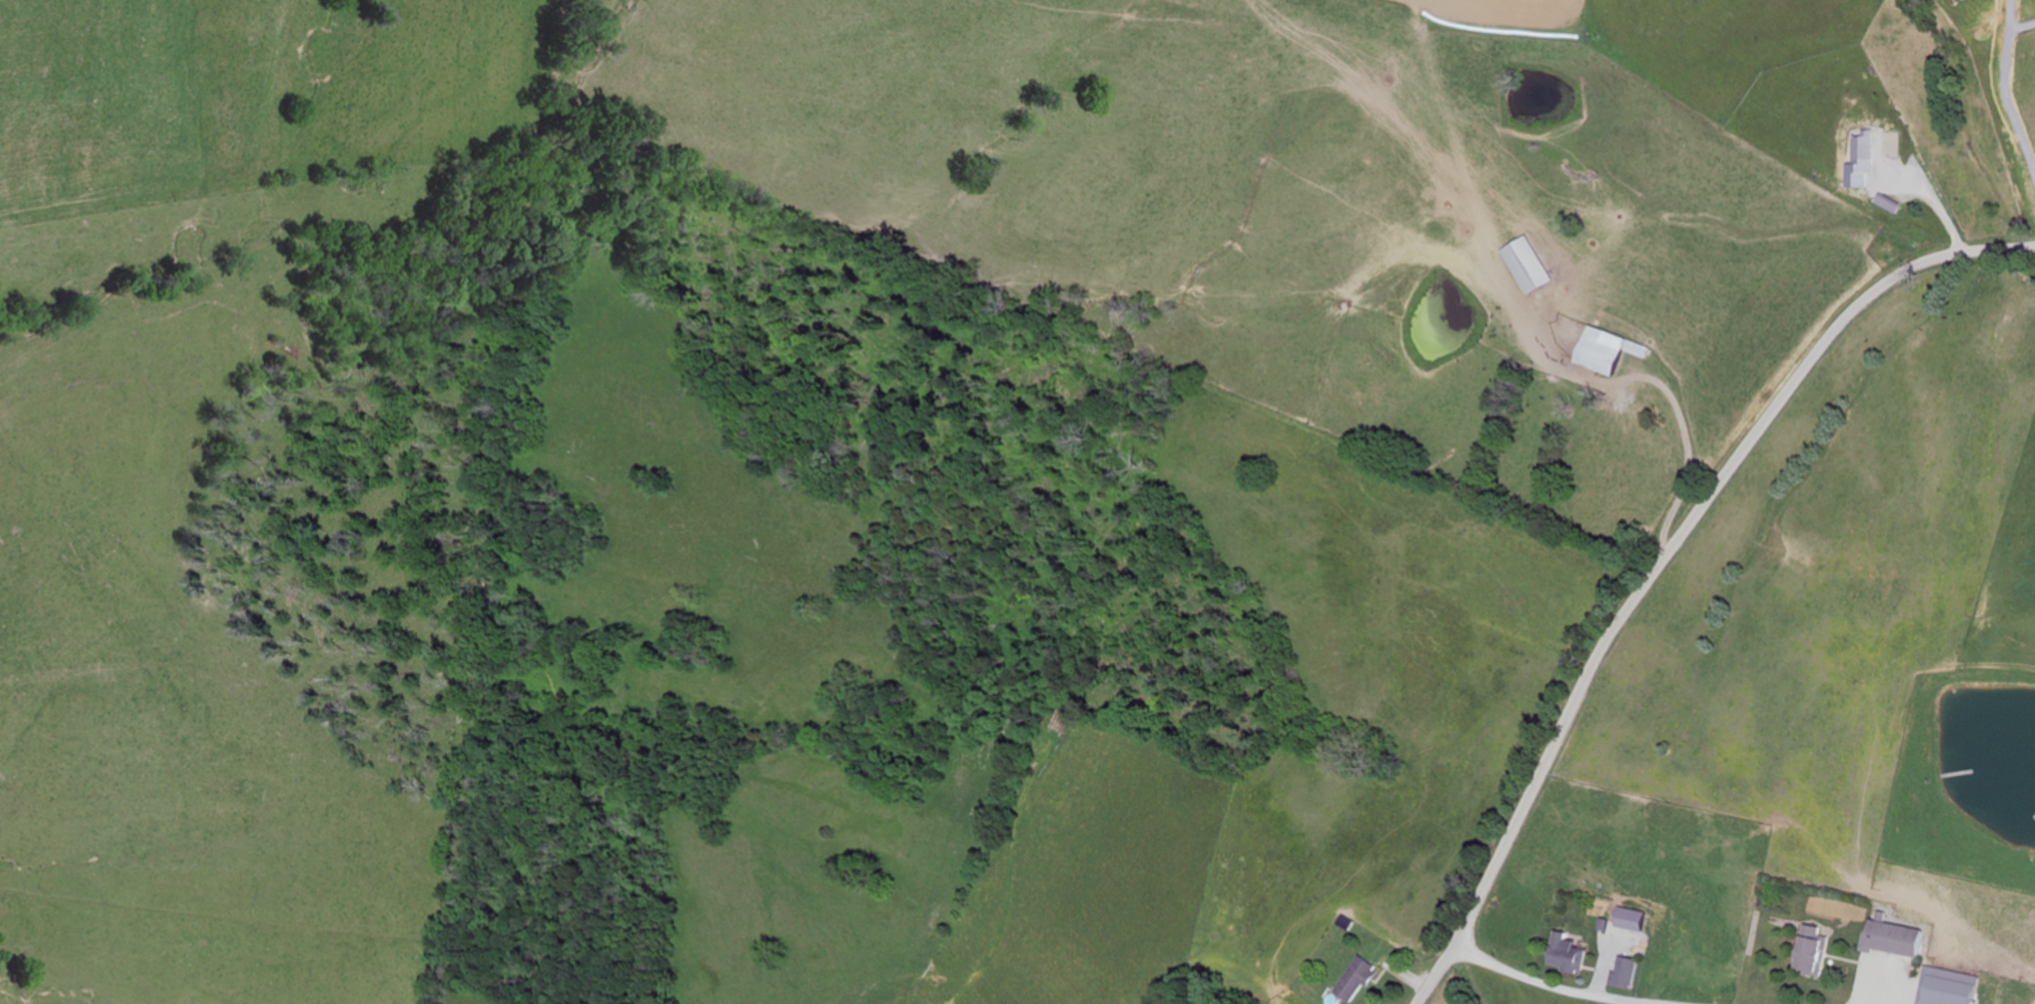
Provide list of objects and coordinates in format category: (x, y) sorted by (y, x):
building: (1890, 145)
building: (1862, 149)
building: (1529, 266)
building: (1610, 351)
road: (1666, 557)
building: (1891, 938)
building: (1810, 950)
building: (1569, 954)
building: (1626, 971)
building: (1357, 978)
road: (1470, 995)

